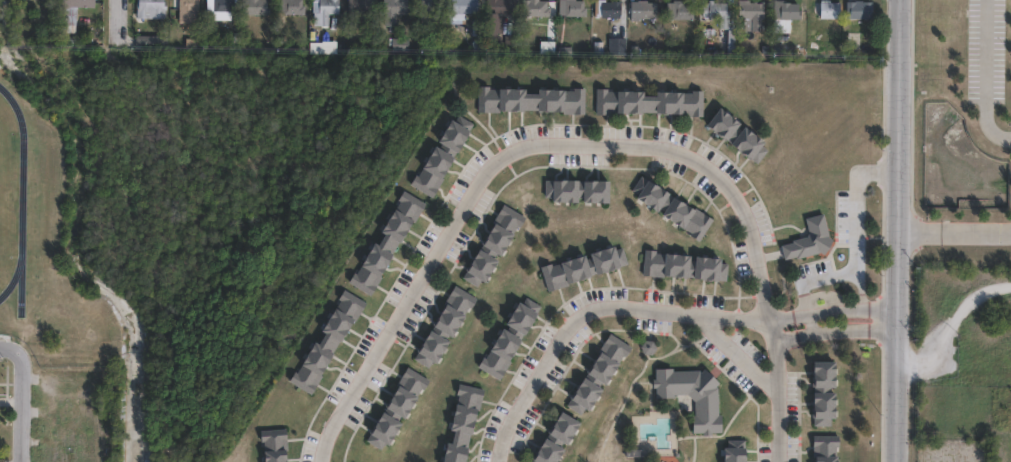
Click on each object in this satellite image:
building: (35, 1)
building: (183, 5)
building: (359, 6)
building: (289, 7)
building: (534, 7)
building: (572, 7)
building: (218, 8)
building: (253, 8)
building: (463, 8)
building: (607, 8)
building: (643, 8)
building: (149, 9)
building: (829, 9)
building: (859, 9)
building: (678, 10)
building: (786, 10)
building: (322, 11)
building: (392, 11)
building: (716, 12)
building: (751, 12)
building: (66, 13)
building: (496, 15)
road: (117, 20)
building: (146, 42)
building: (398, 44)
building: (616, 44)
building: (325, 47)
road: (990, 67)
building: (530, 97)
building: (648, 100)
building: (740, 124)
building: (443, 150)
road: (512, 152)
building: (577, 189)
building: (673, 206)
track: (18, 209)
road: (953, 223)
road: (855, 230)
road: (896, 231)
building: (388, 239)
building: (810, 239)
building: (493, 242)
building: (583, 265)
building: (683, 266)
road: (653, 309)
building: (444, 323)
building: (647, 337)
building: (508, 338)
building: (325, 343)
road: (7, 349)
road: (728, 356)
building: (599, 372)
building: (824, 386)
road: (770, 391)
building: (693, 395)
road: (23, 405)
building: (396, 405)
building: (461, 423)
building: (556, 439)
building: (273, 445)
building: (826, 445)
building: (734, 451)

